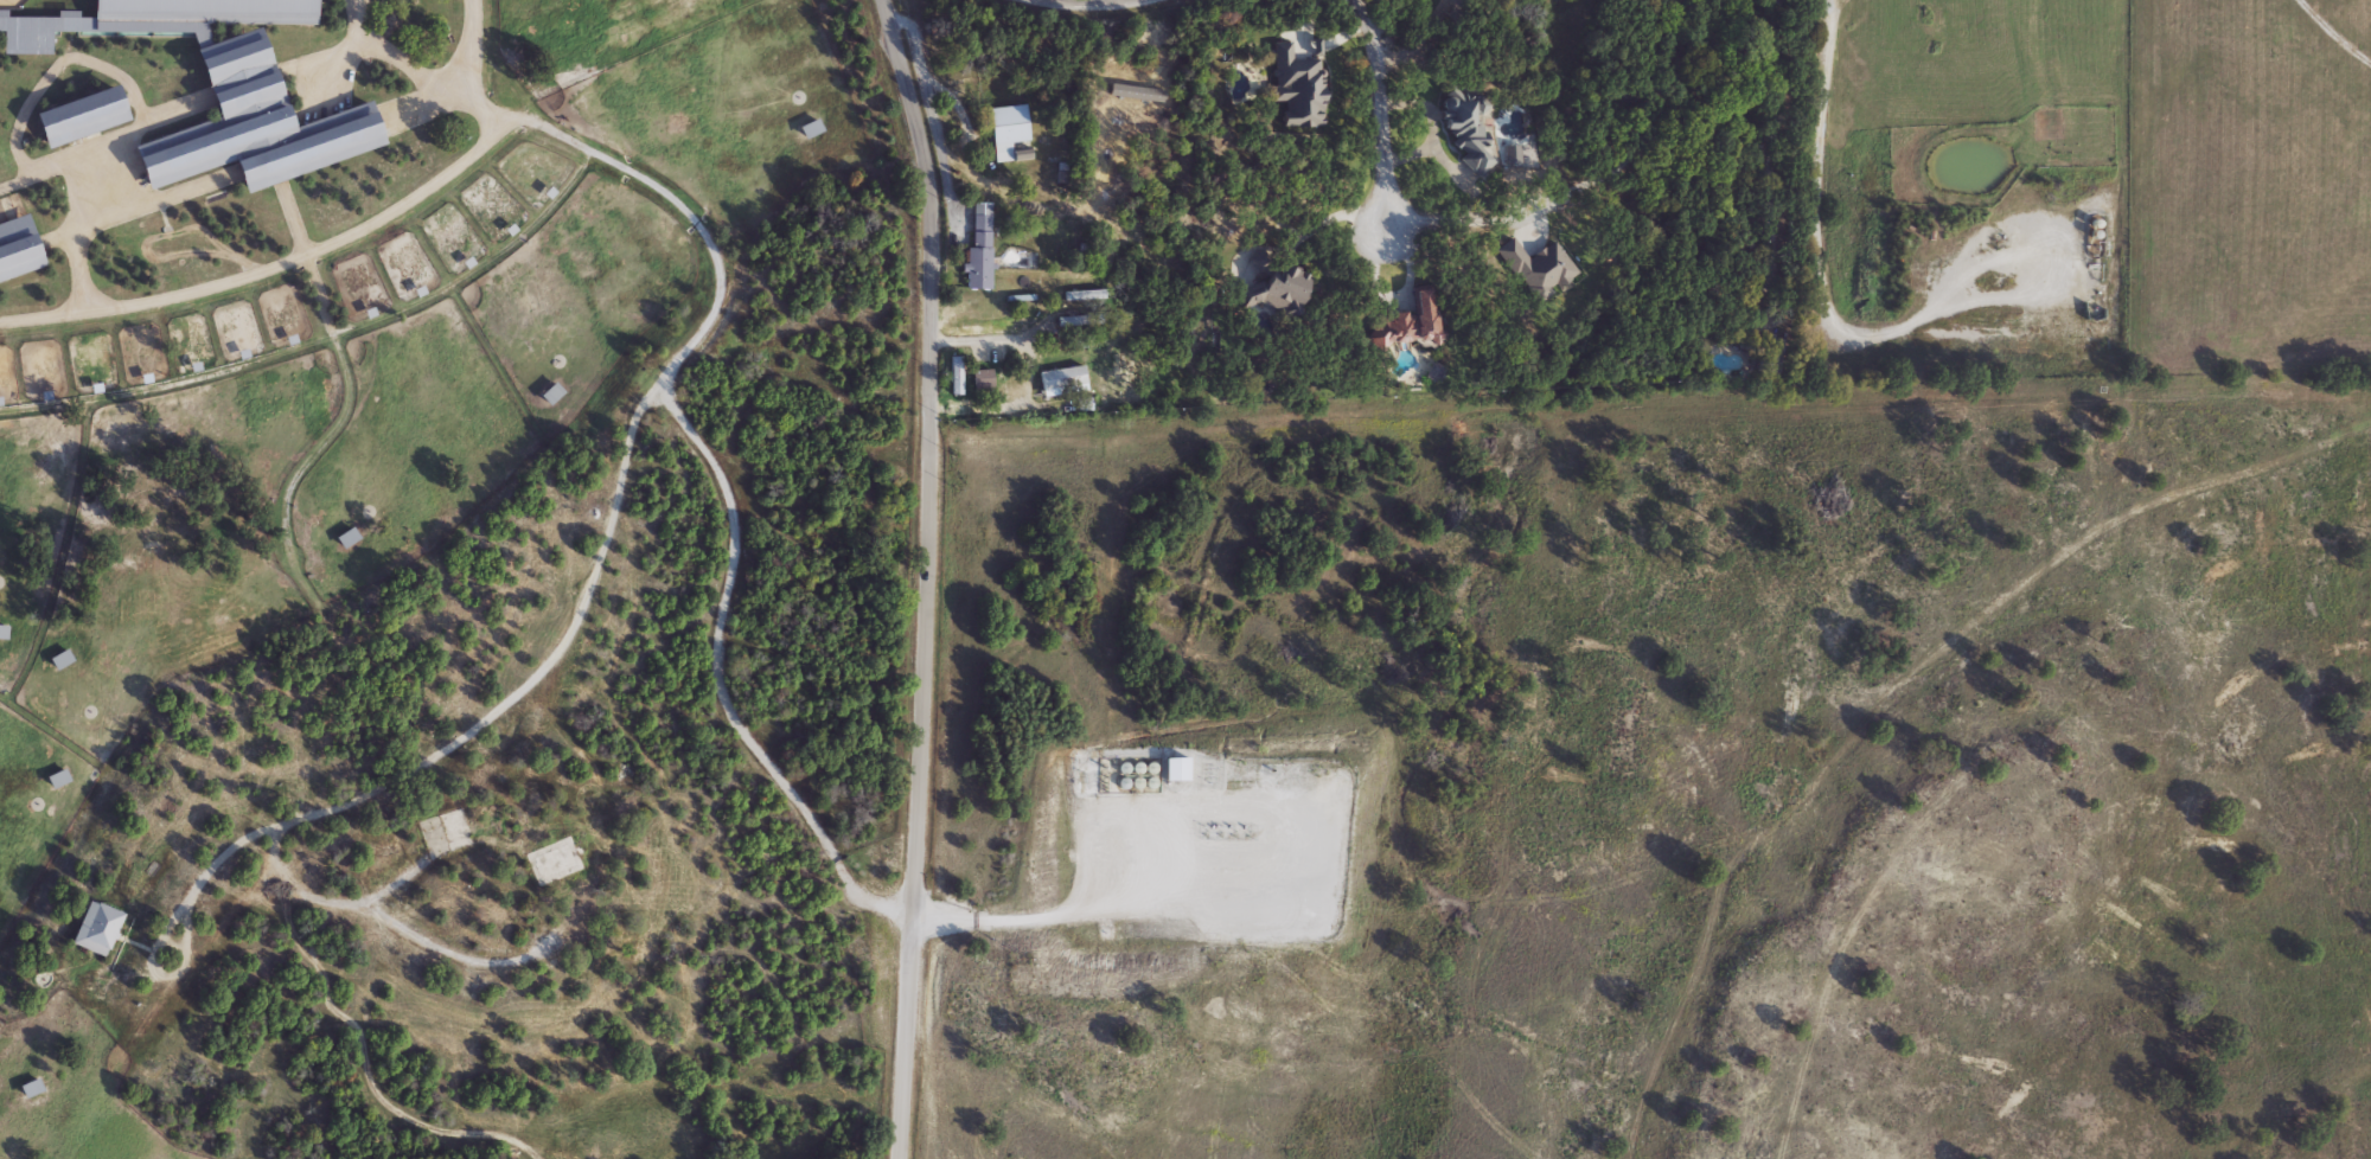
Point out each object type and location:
building: (1667, 0)
road: (2337, 31)
road: (1418, 41)
road: (395, 58)
road: (1375, 113)
building: (81, 119)
road: (1640, 126)
building: (811, 129)
building: (1463, 133)
building: (1009, 134)
road: (1824, 160)
road: (95, 175)
road: (1329, 218)
building: (978, 246)
road: (321, 249)
building: (18, 251)
building: (1273, 289)
road: (46, 313)
building: (1405, 325)
road: (1002, 341)
building: (1766, 356)
building: (1065, 377)
building: (551, 395)
road: (988, 404)
road: (679, 422)
building: (347, 538)
road: (926, 576)
building: (4, 632)
road: (1897, 692)
road: (478, 721)
building: (57, 779)
building: (455, 831)
building: (552, 862)
road: (1031, 911)
road: (396, 920)
building: (97, 929)
building: (31, 1089)

